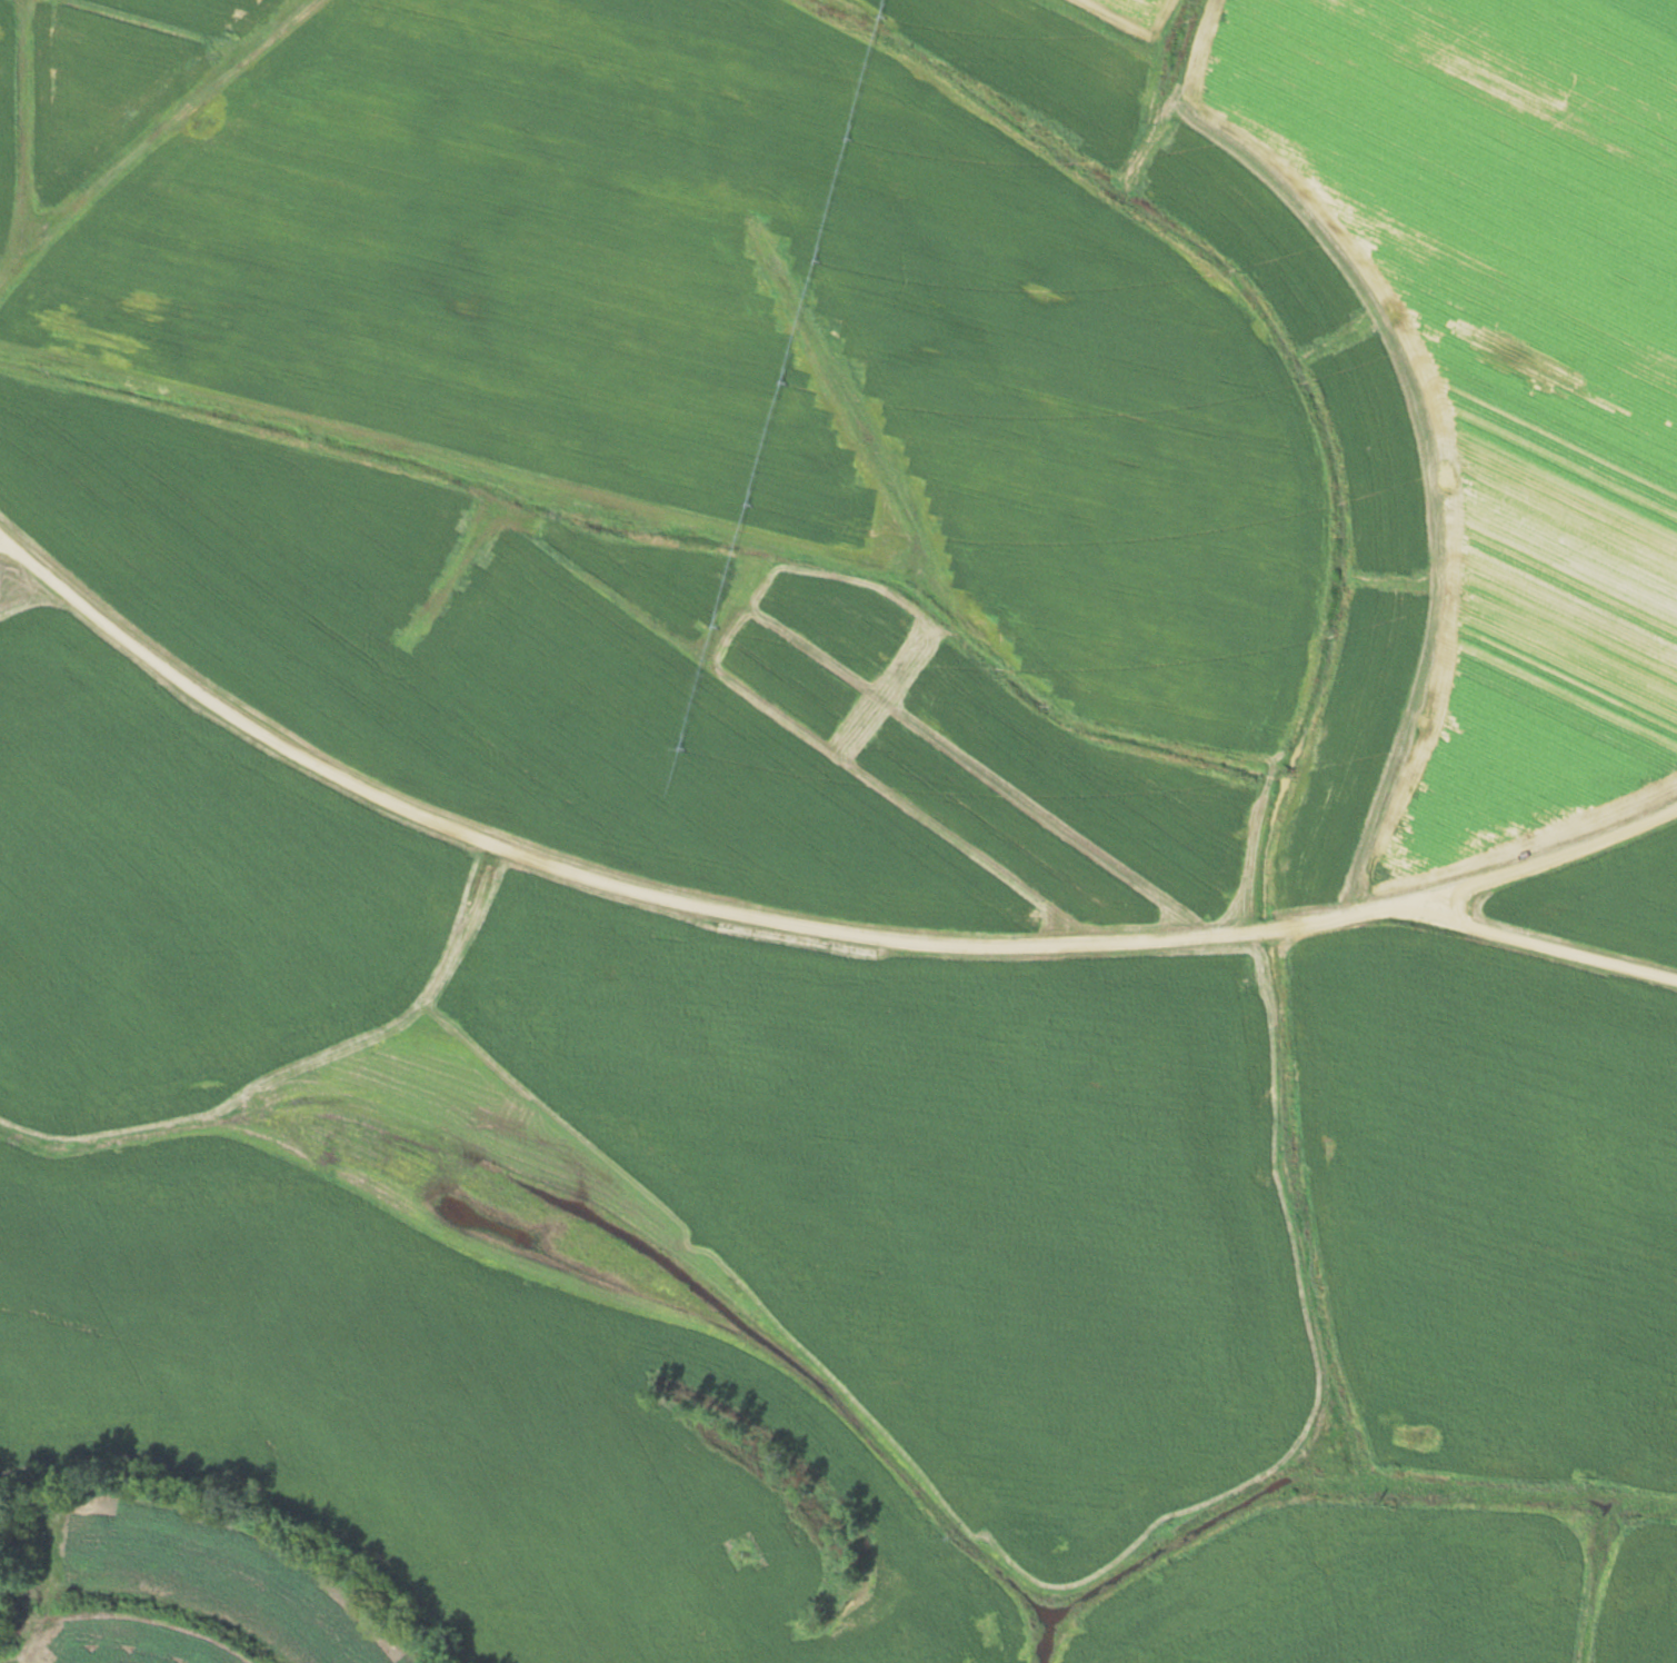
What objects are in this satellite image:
road: (23, 182)
road: (832, 806)

